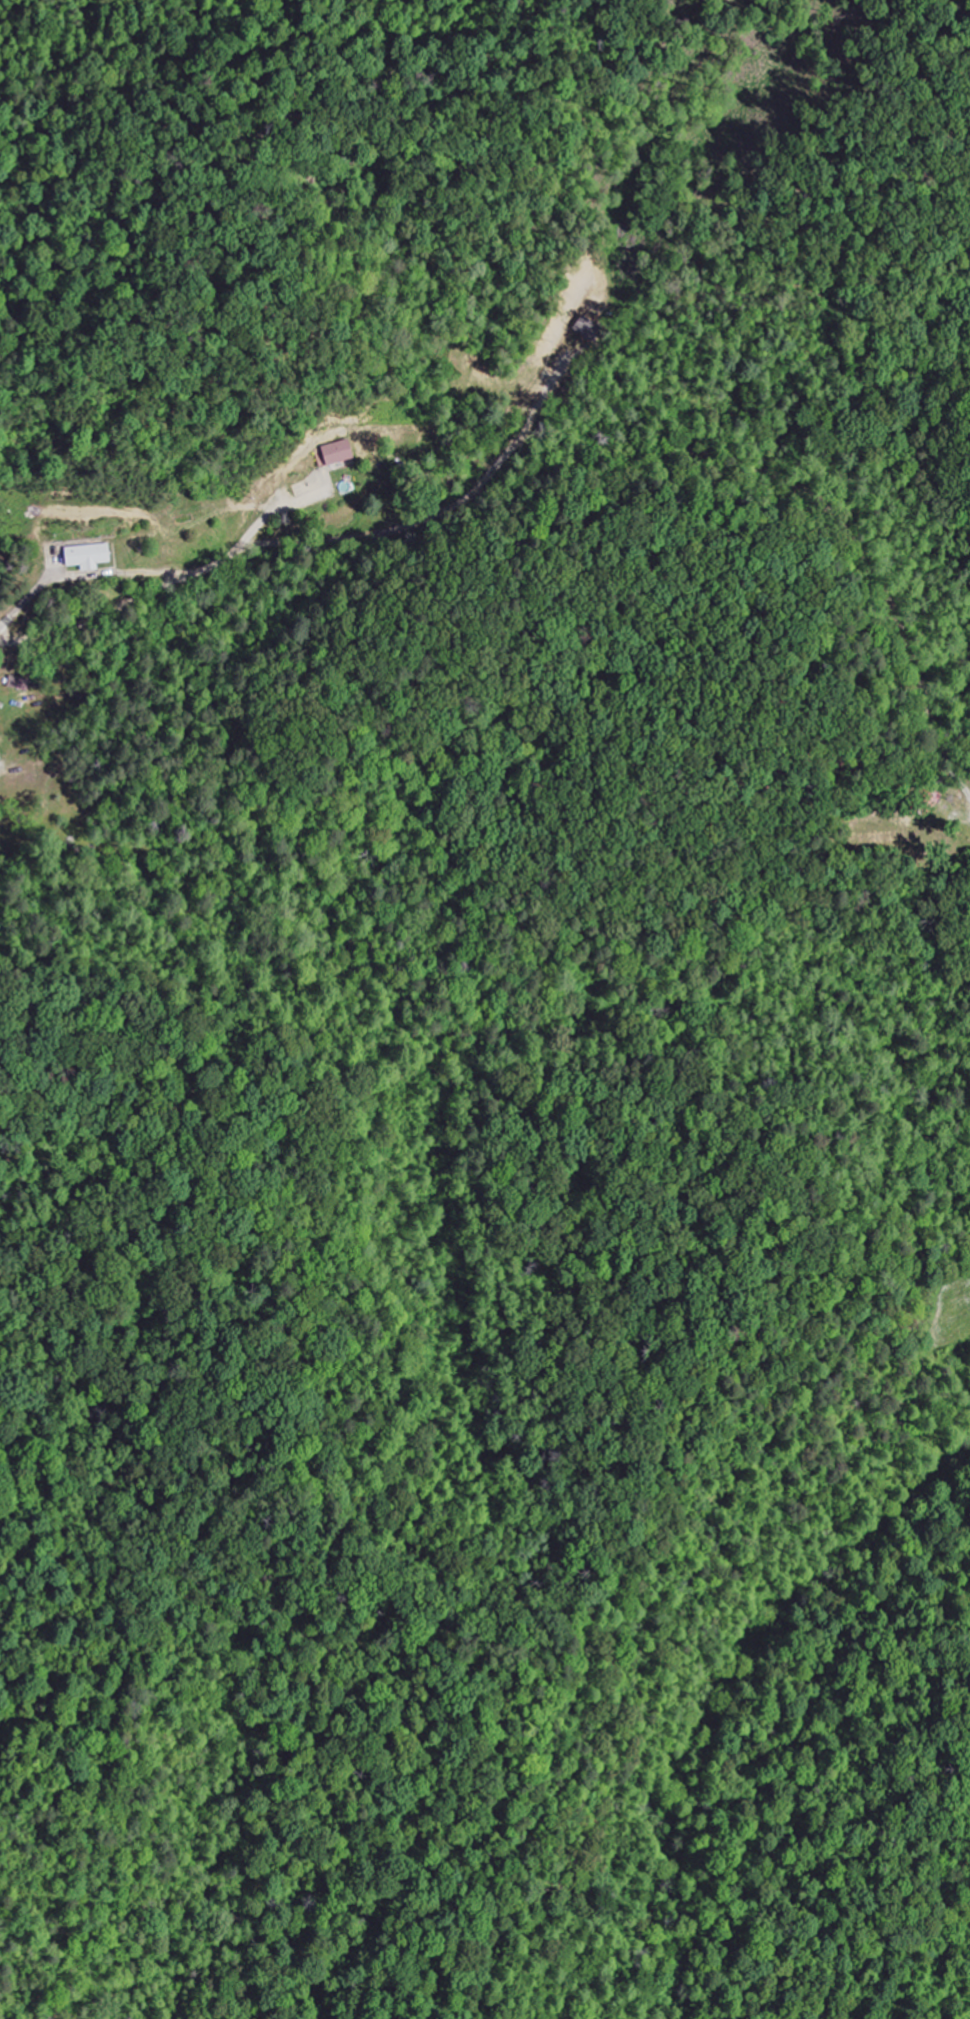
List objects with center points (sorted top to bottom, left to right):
building: (587, 329)
building: (335, 453)
building: (88, 556)

